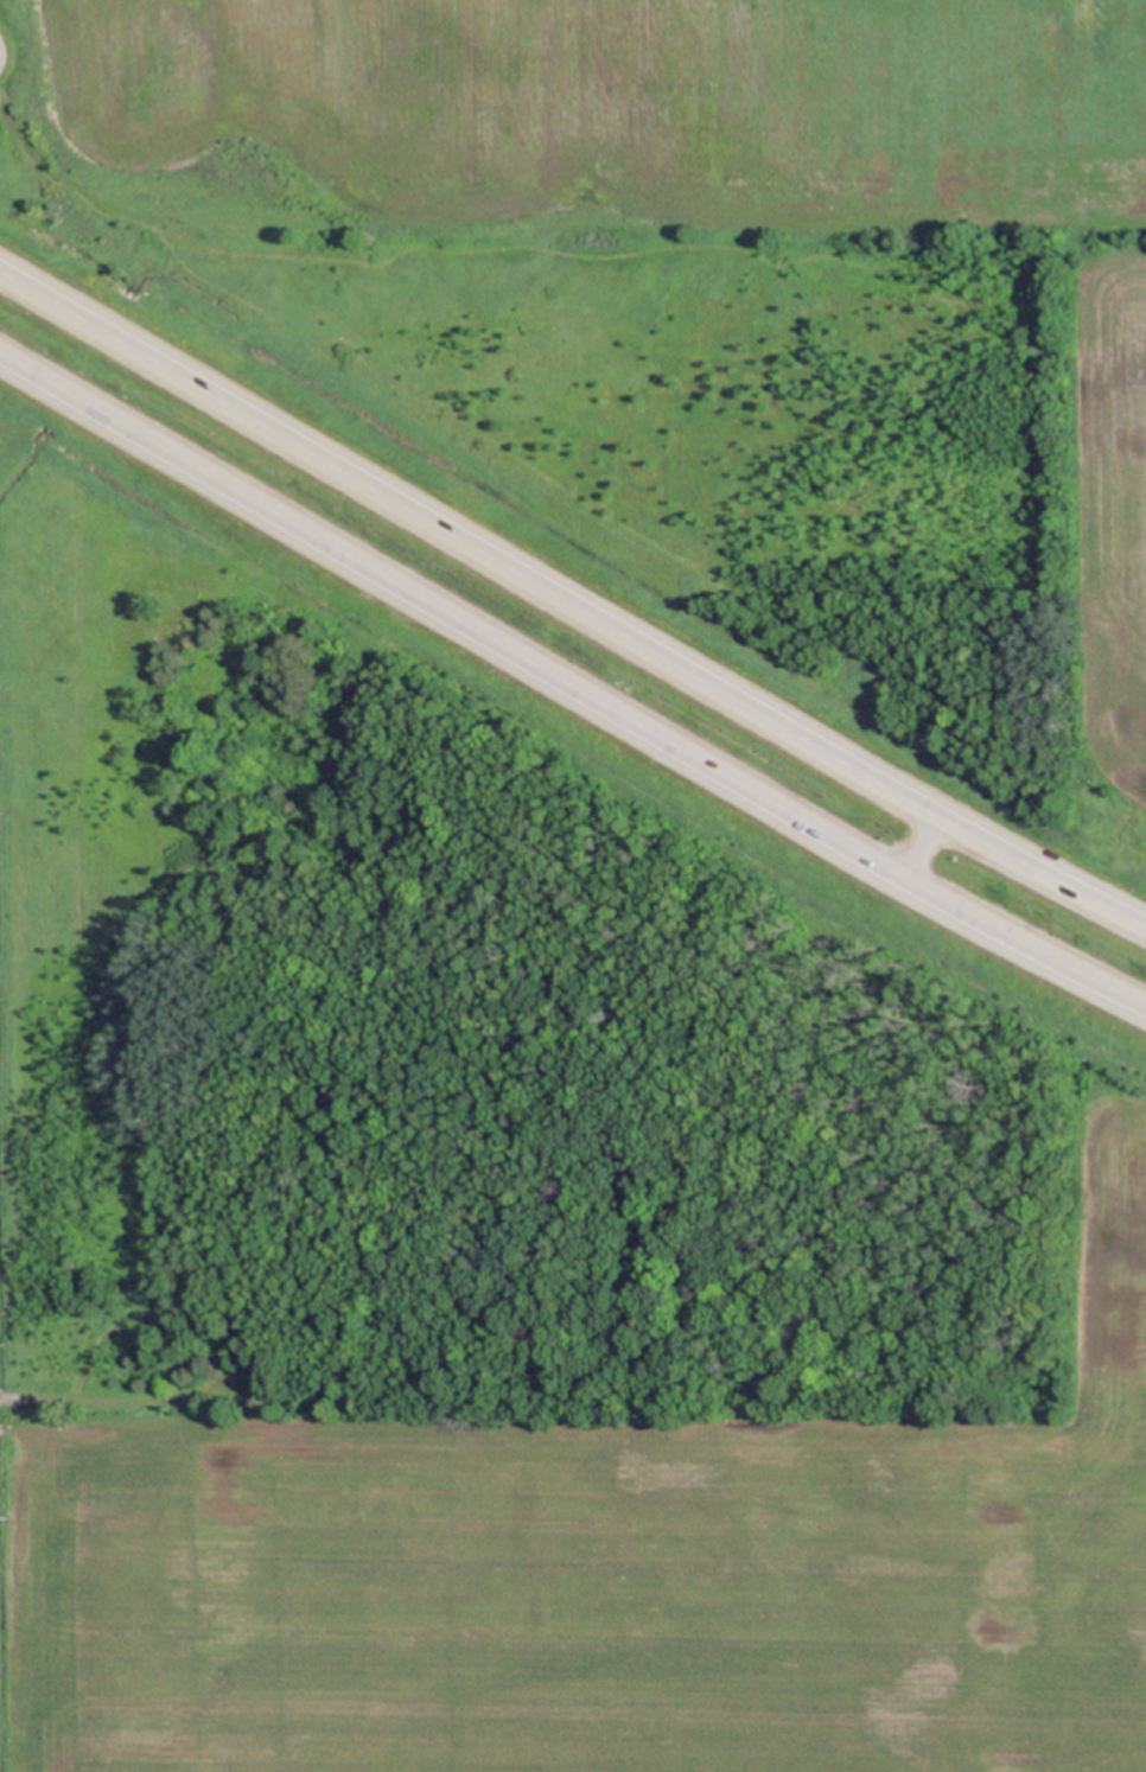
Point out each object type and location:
road: (568, 604)
road: (569, 683)
road: (918, 847)
building: (636, 1239)
building: (673, 1273)
building: (626, 1313)
building: (657, 1318)
building: (616, 1321)
building: (655, 1360)

